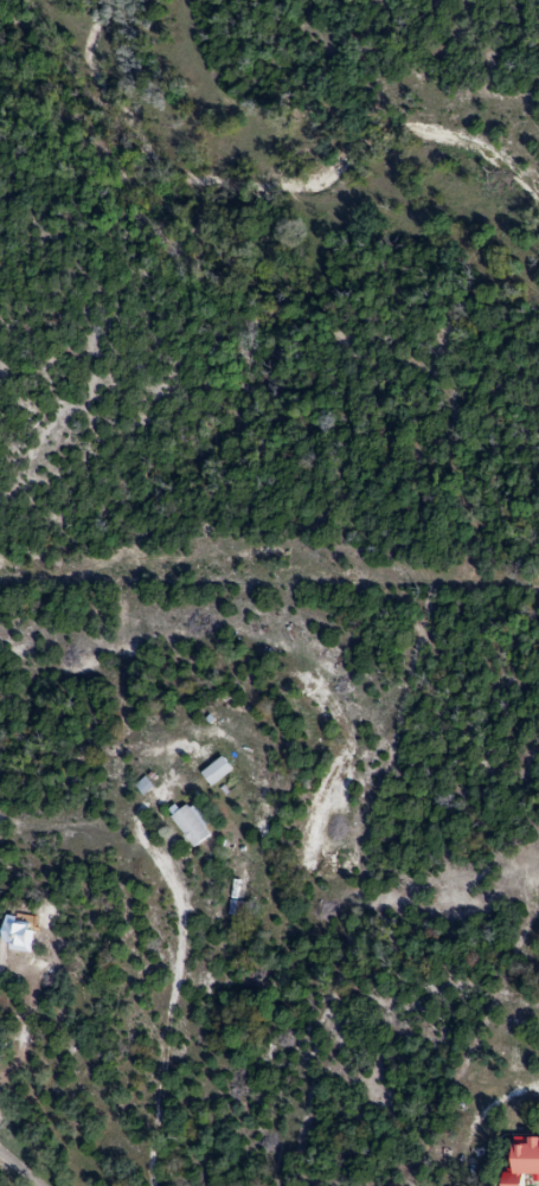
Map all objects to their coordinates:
building: (214, 771)
building: (191, 823)
building: (521, 1162)
road: (8, 1179)

